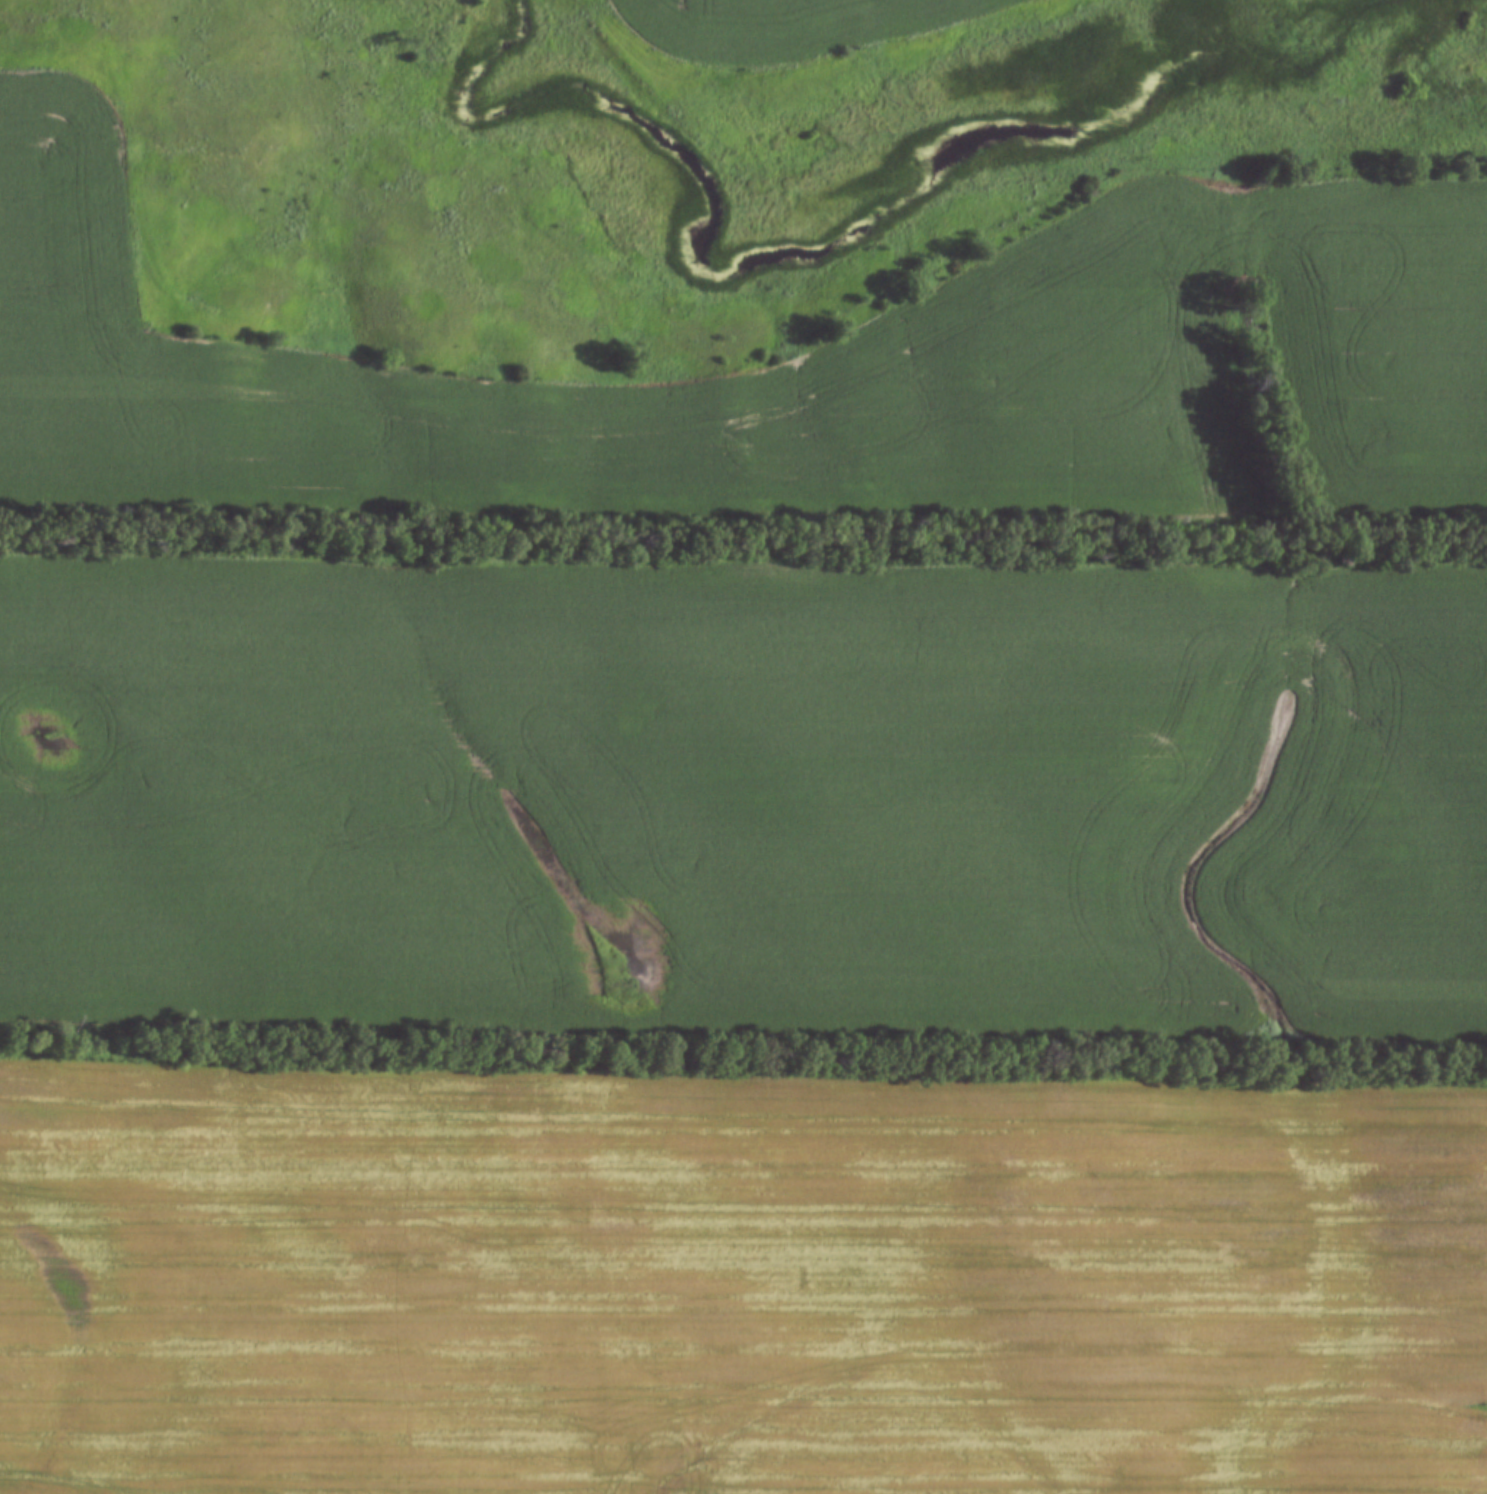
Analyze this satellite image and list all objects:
river: (1381, 107)
river: (772, 286)

